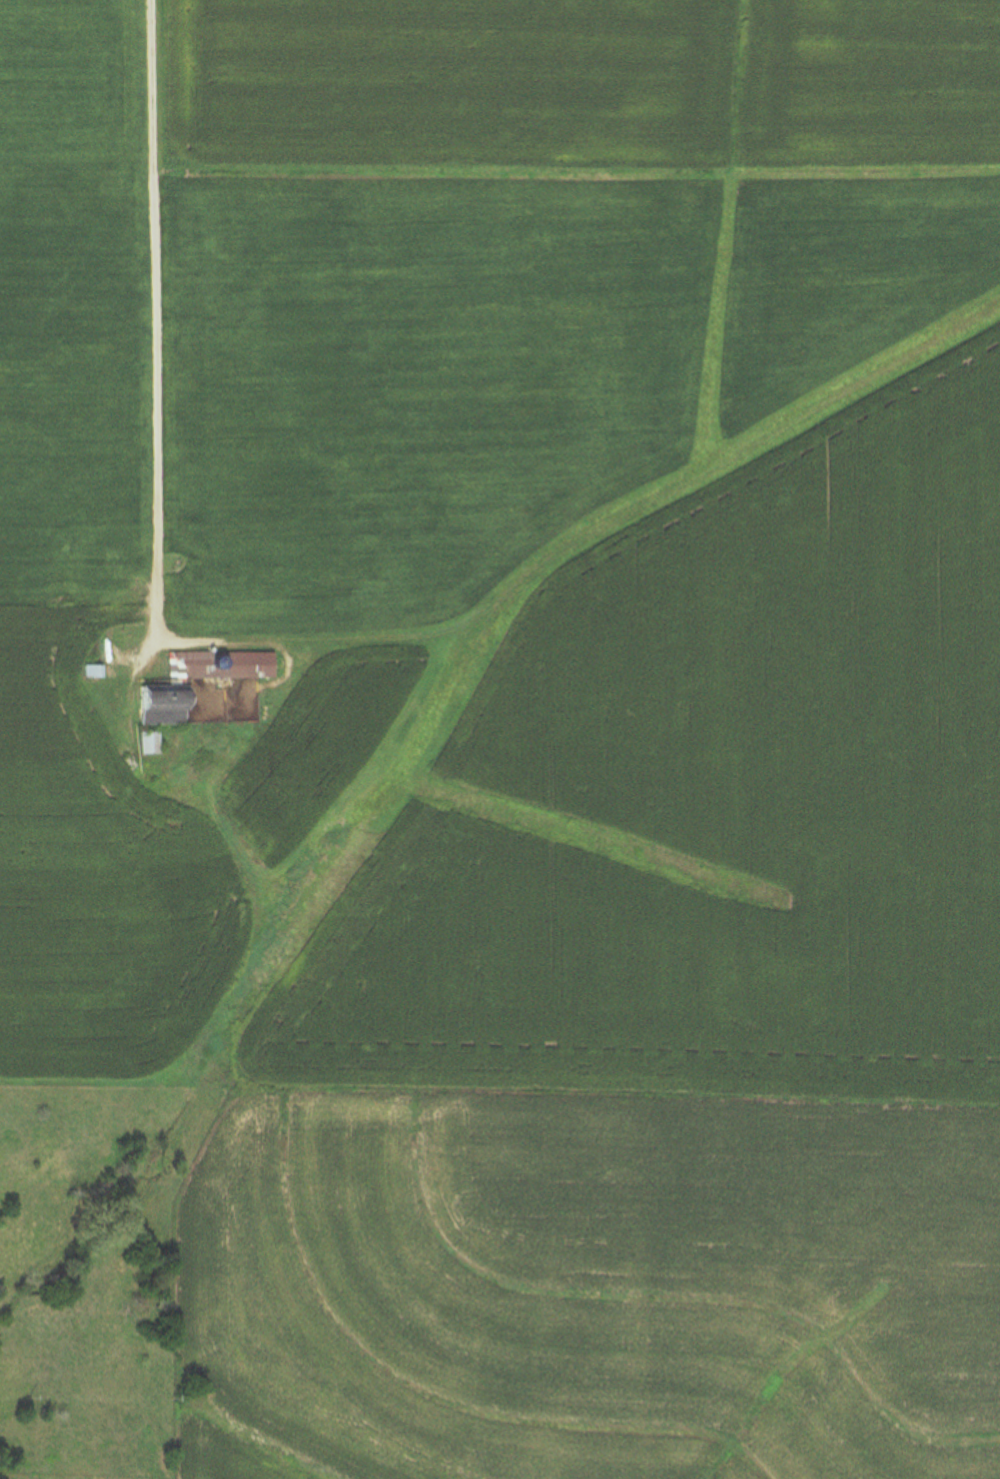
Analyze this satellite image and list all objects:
road: (155, 407)
building: (90, 664)
building: (157, 706)
building: (146, 744)

